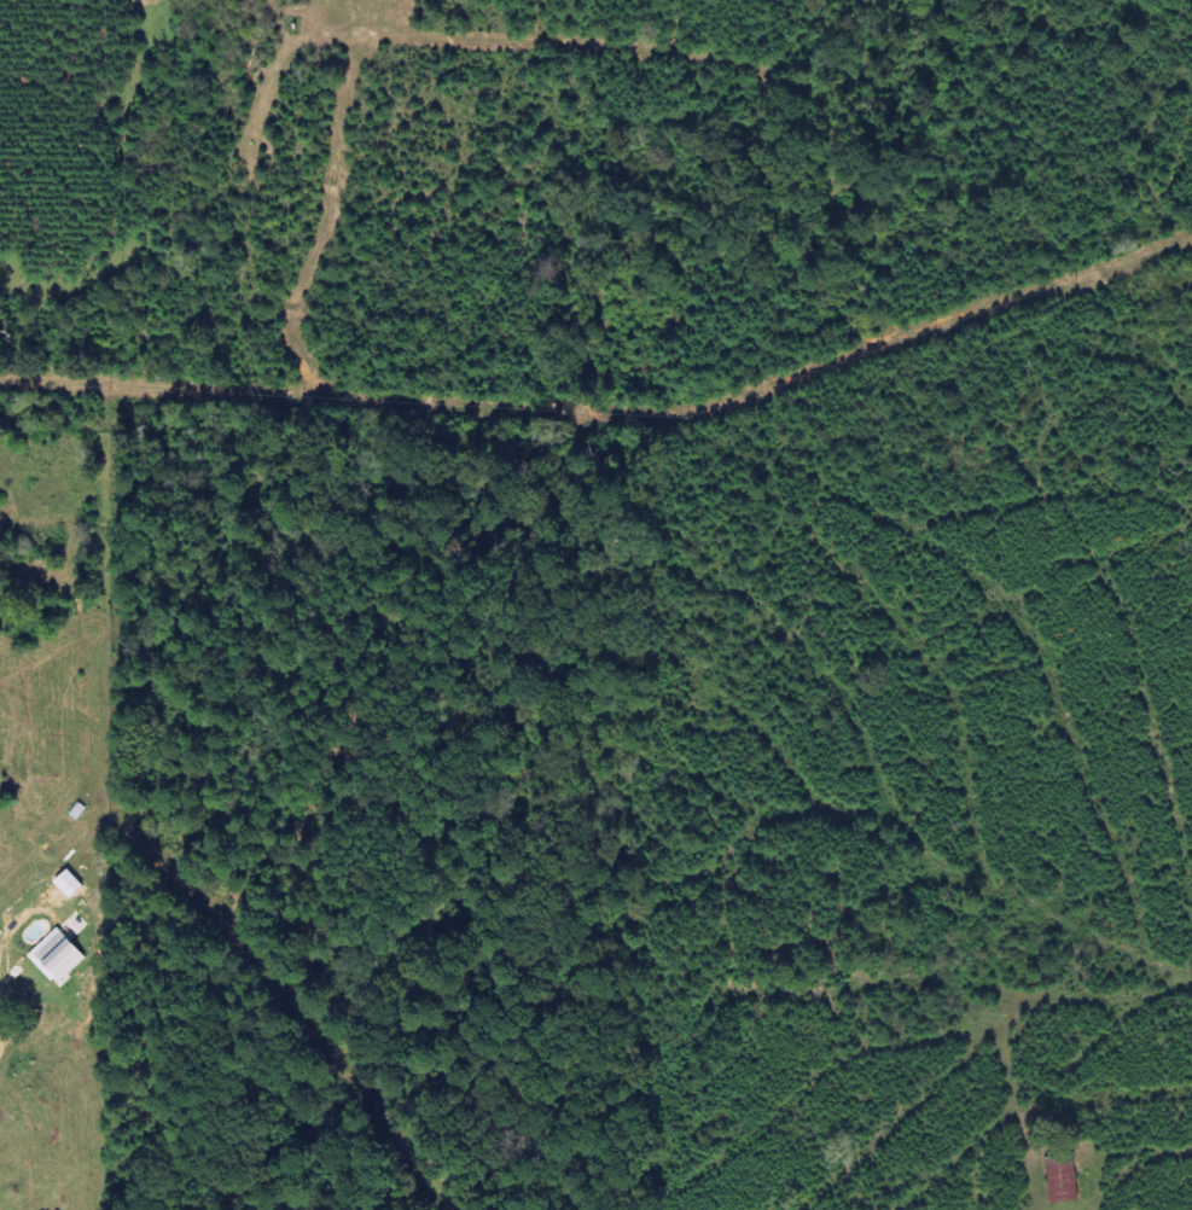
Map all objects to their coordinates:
building: (59, 955)
building: (1064, 1179)

